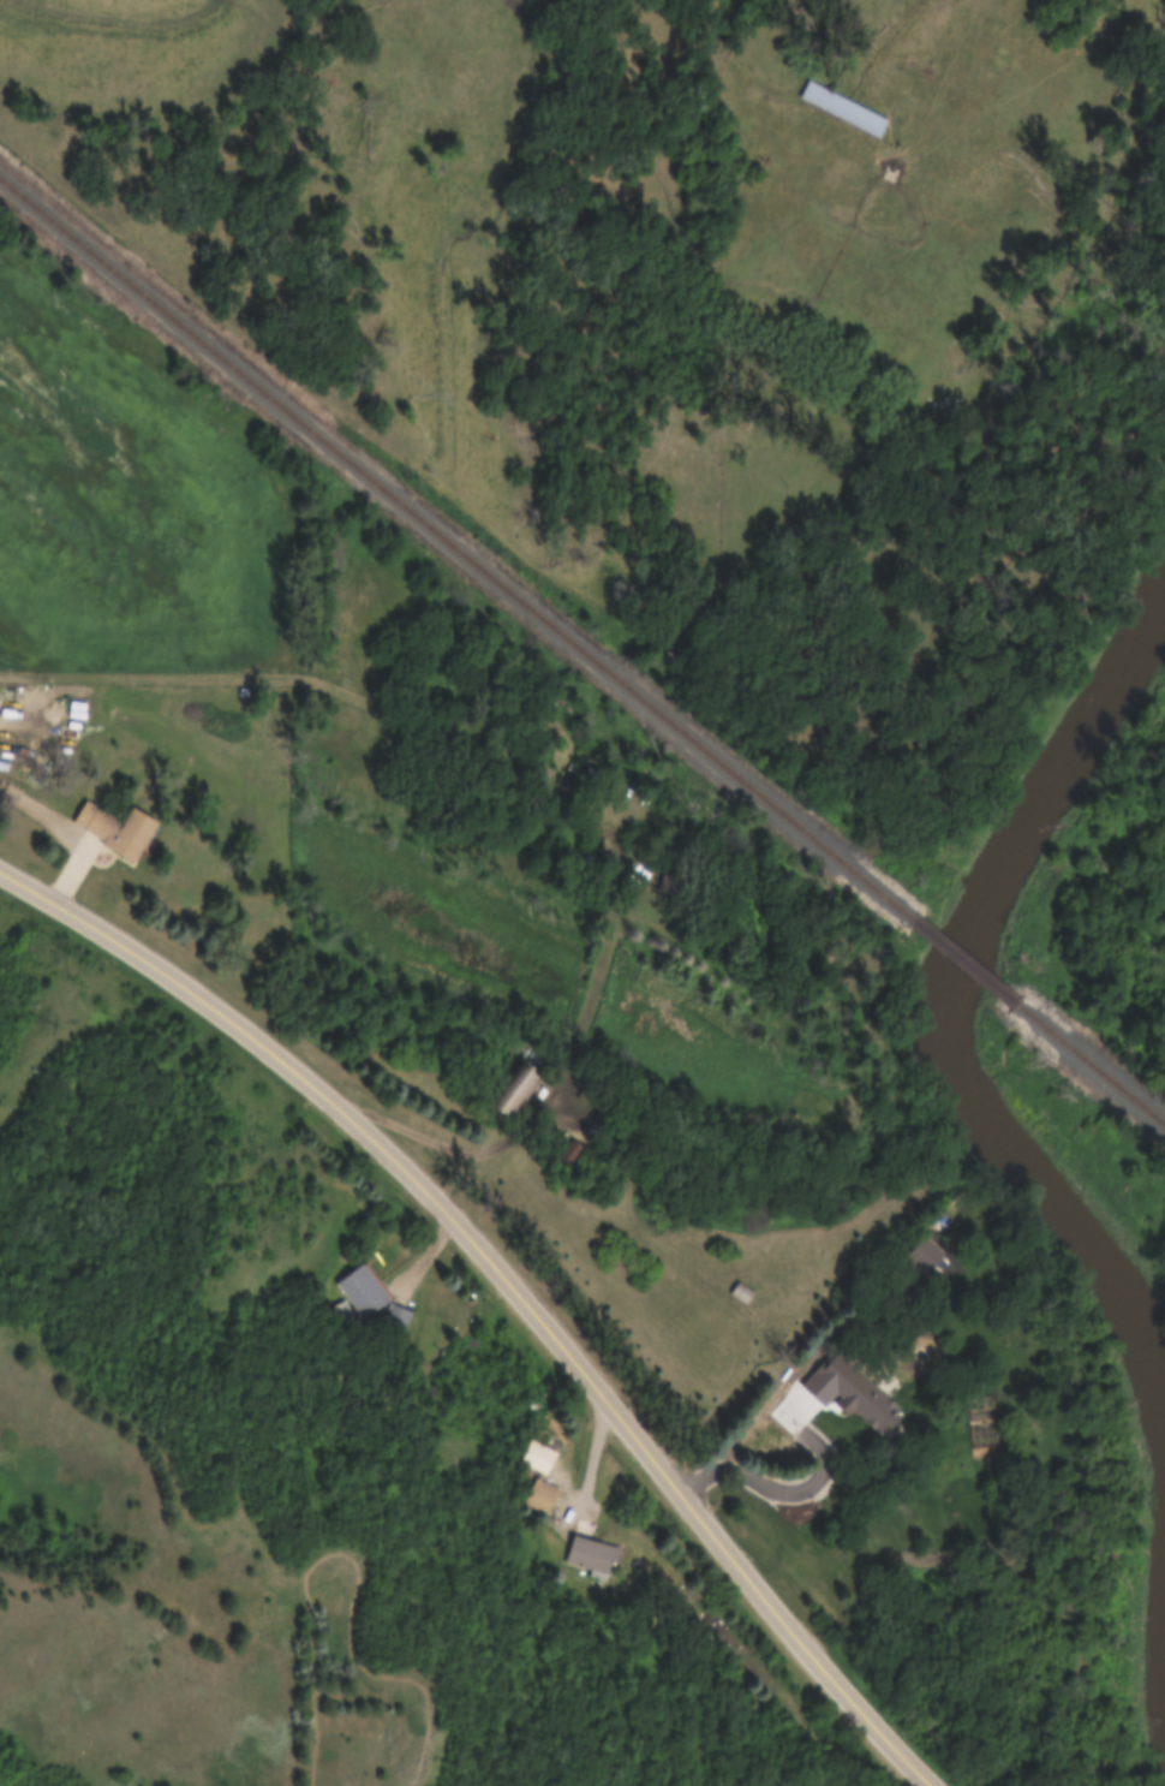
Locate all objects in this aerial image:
building: (841, 108)
railway: (452, 546)
road: (191, 671)
road: (48, 809)
building: (115, 829)
road: (70, 875)
building: (671, 883)
railway: (960, 958)
river: (949, 1022)
road: (568, 1054)
railway: (1091, 1065)
road: (512, 1280)
building: (360, 1291)
building: (740, 1293)
road: (758, 1417)
building: (537, 1457)
building: (542, 1493)
building: (592, 1556)
river: (1163, 1609)

